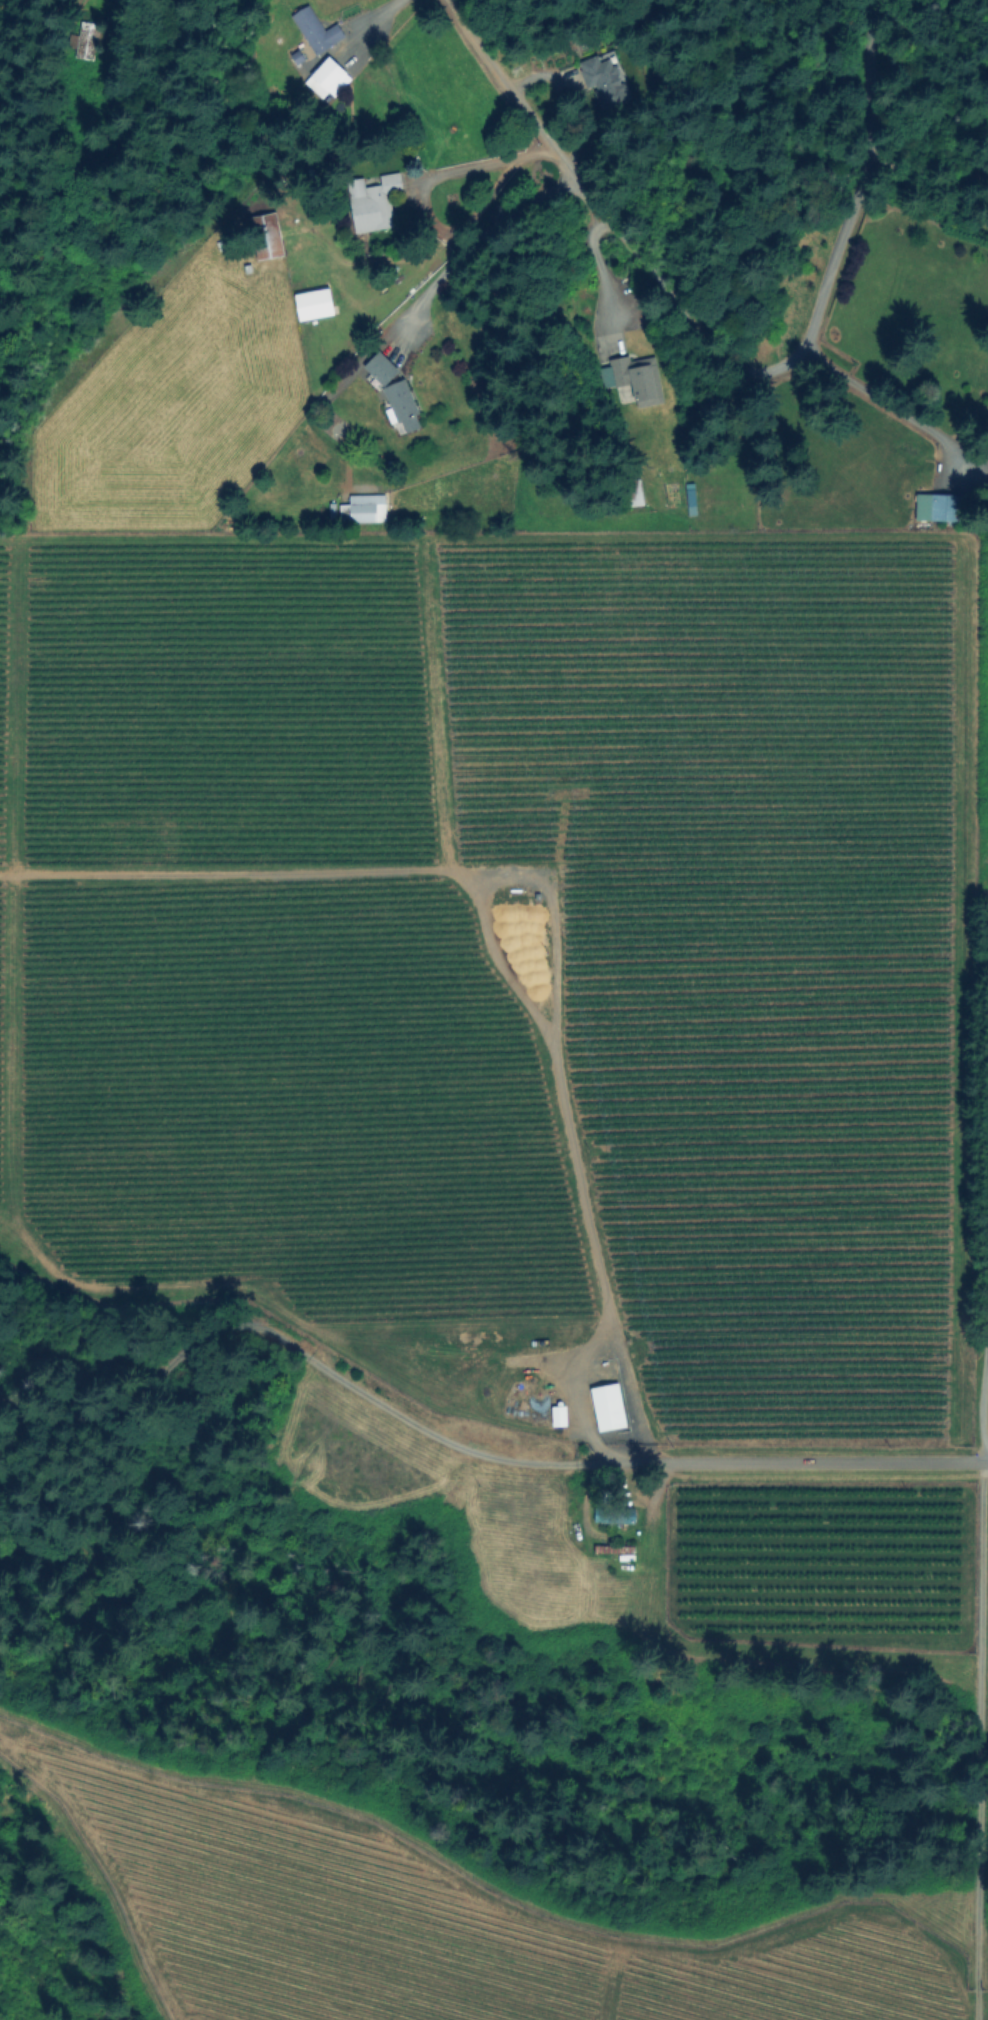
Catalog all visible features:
road: (88, 5)
road: (369, 25)
building: (317, 31)
building: (88, 41)
building: (327, 78)
building: (607, 79)
road: (416, 193)
building: (377, 205)
building: (267, 243)
road: (479, 243)
road: (717, 364)
building: (383, 369)
building: (636, 379)
road: (887, 405)
building: (404, 406)
building: (638, 492)
building: (693, 499)
building: (939, 507)
building: (366, 508)
building: (510, 926)
road: (985, 1192)
road: (589, 1258)
road: (486, 1427)
building: (616, 1549)
road: (987, 1938)

